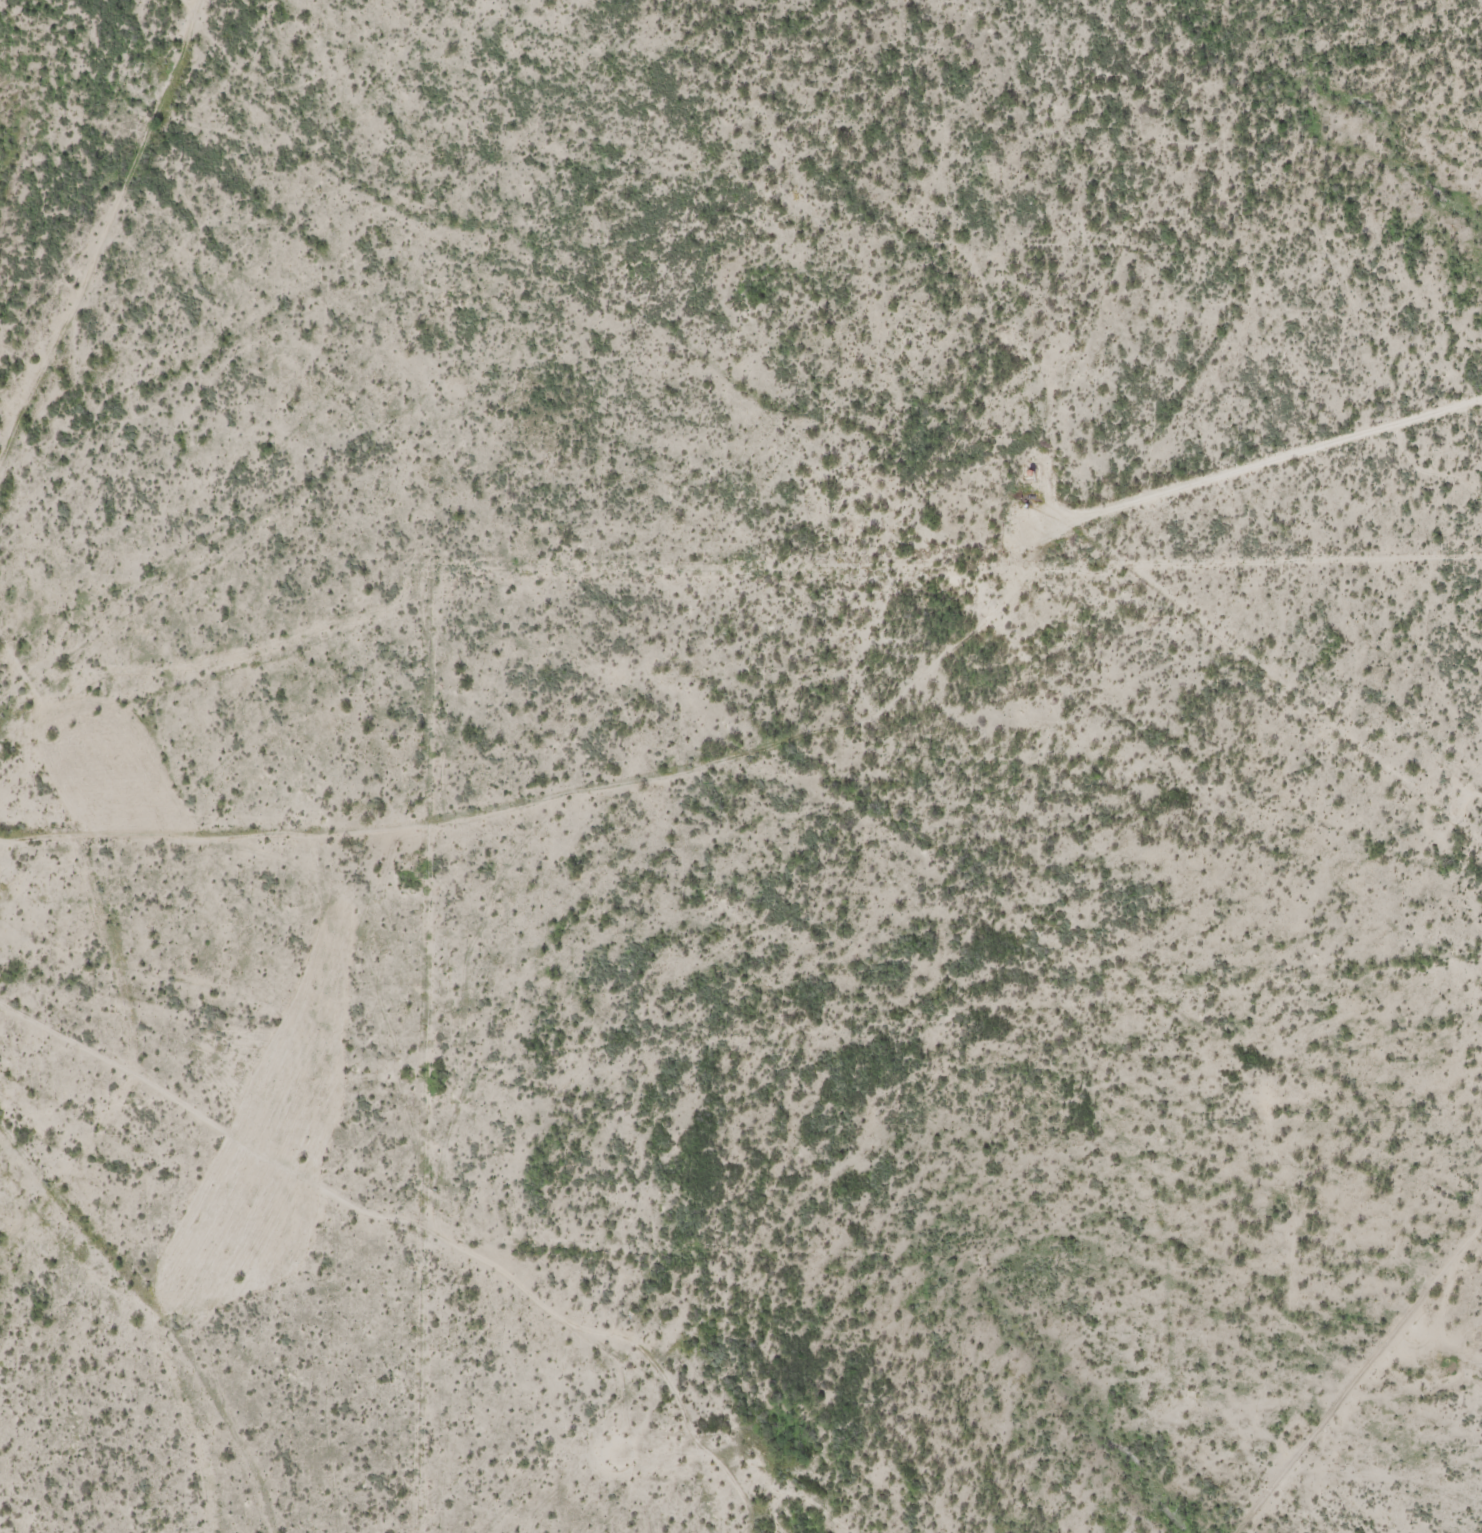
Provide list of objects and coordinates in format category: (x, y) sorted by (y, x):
road: (110, 251)
road: (785, 745)

